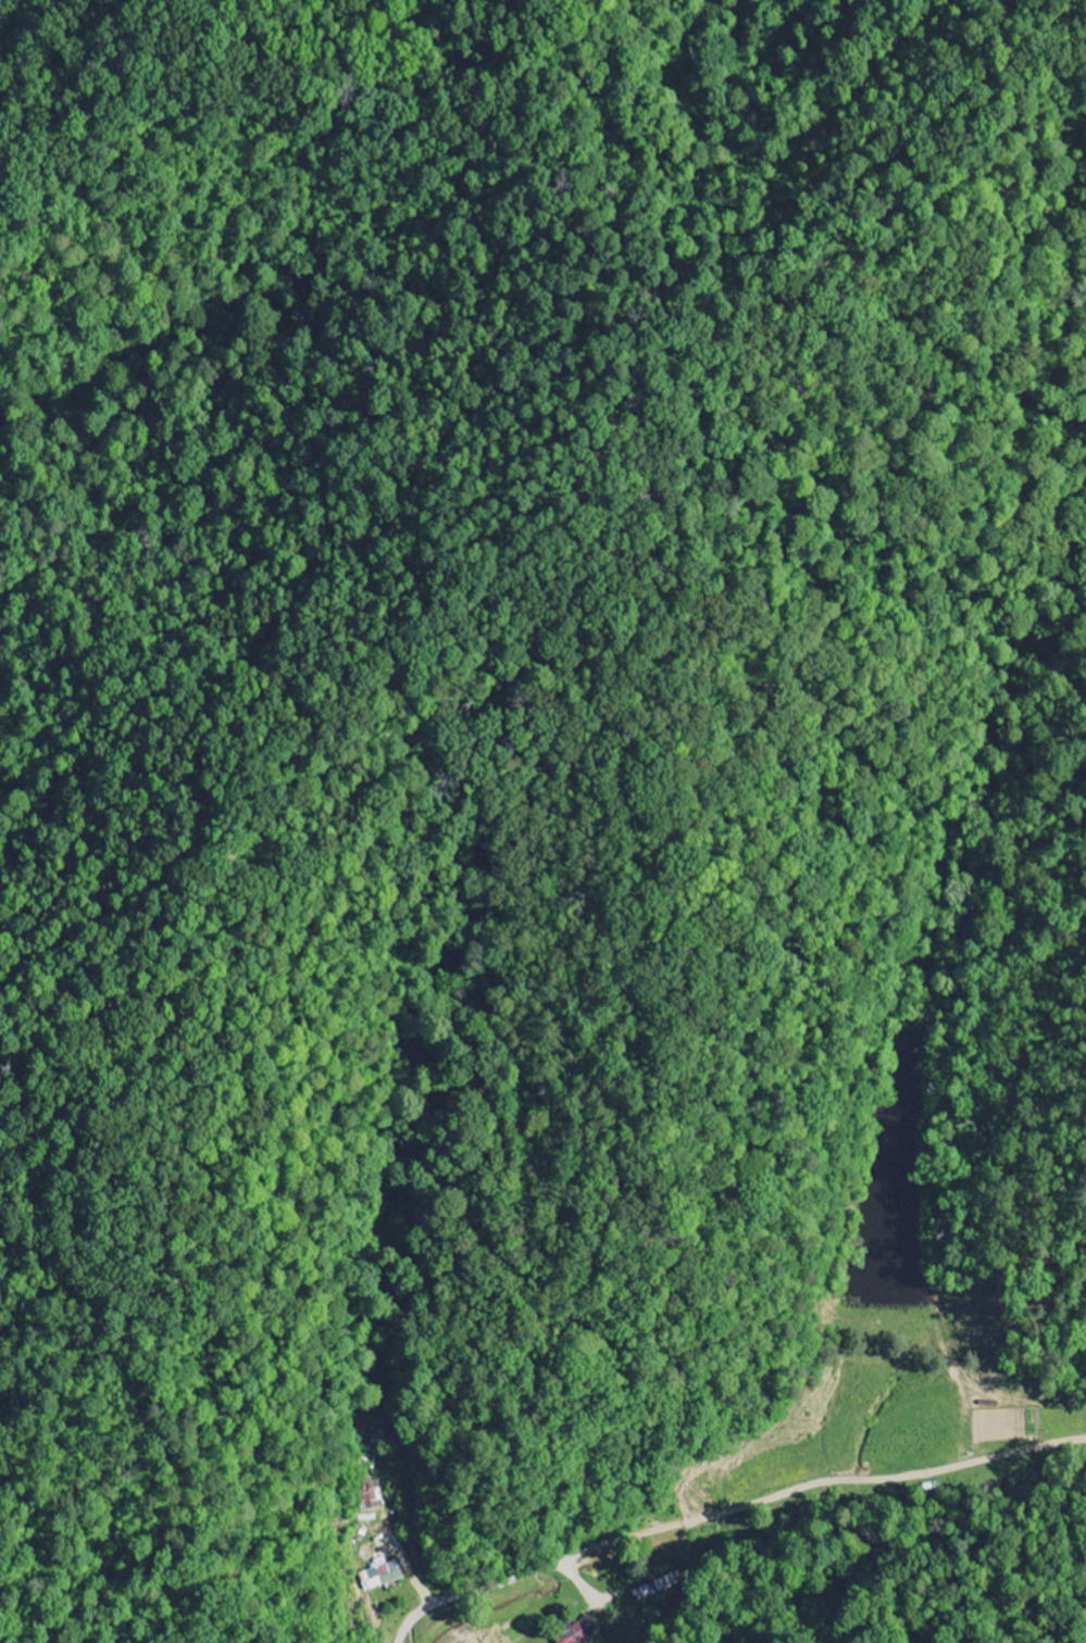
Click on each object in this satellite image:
building: (371, 1494)
road: (612, 1540)
building: (380, 1575)
building: (577, 1631)

